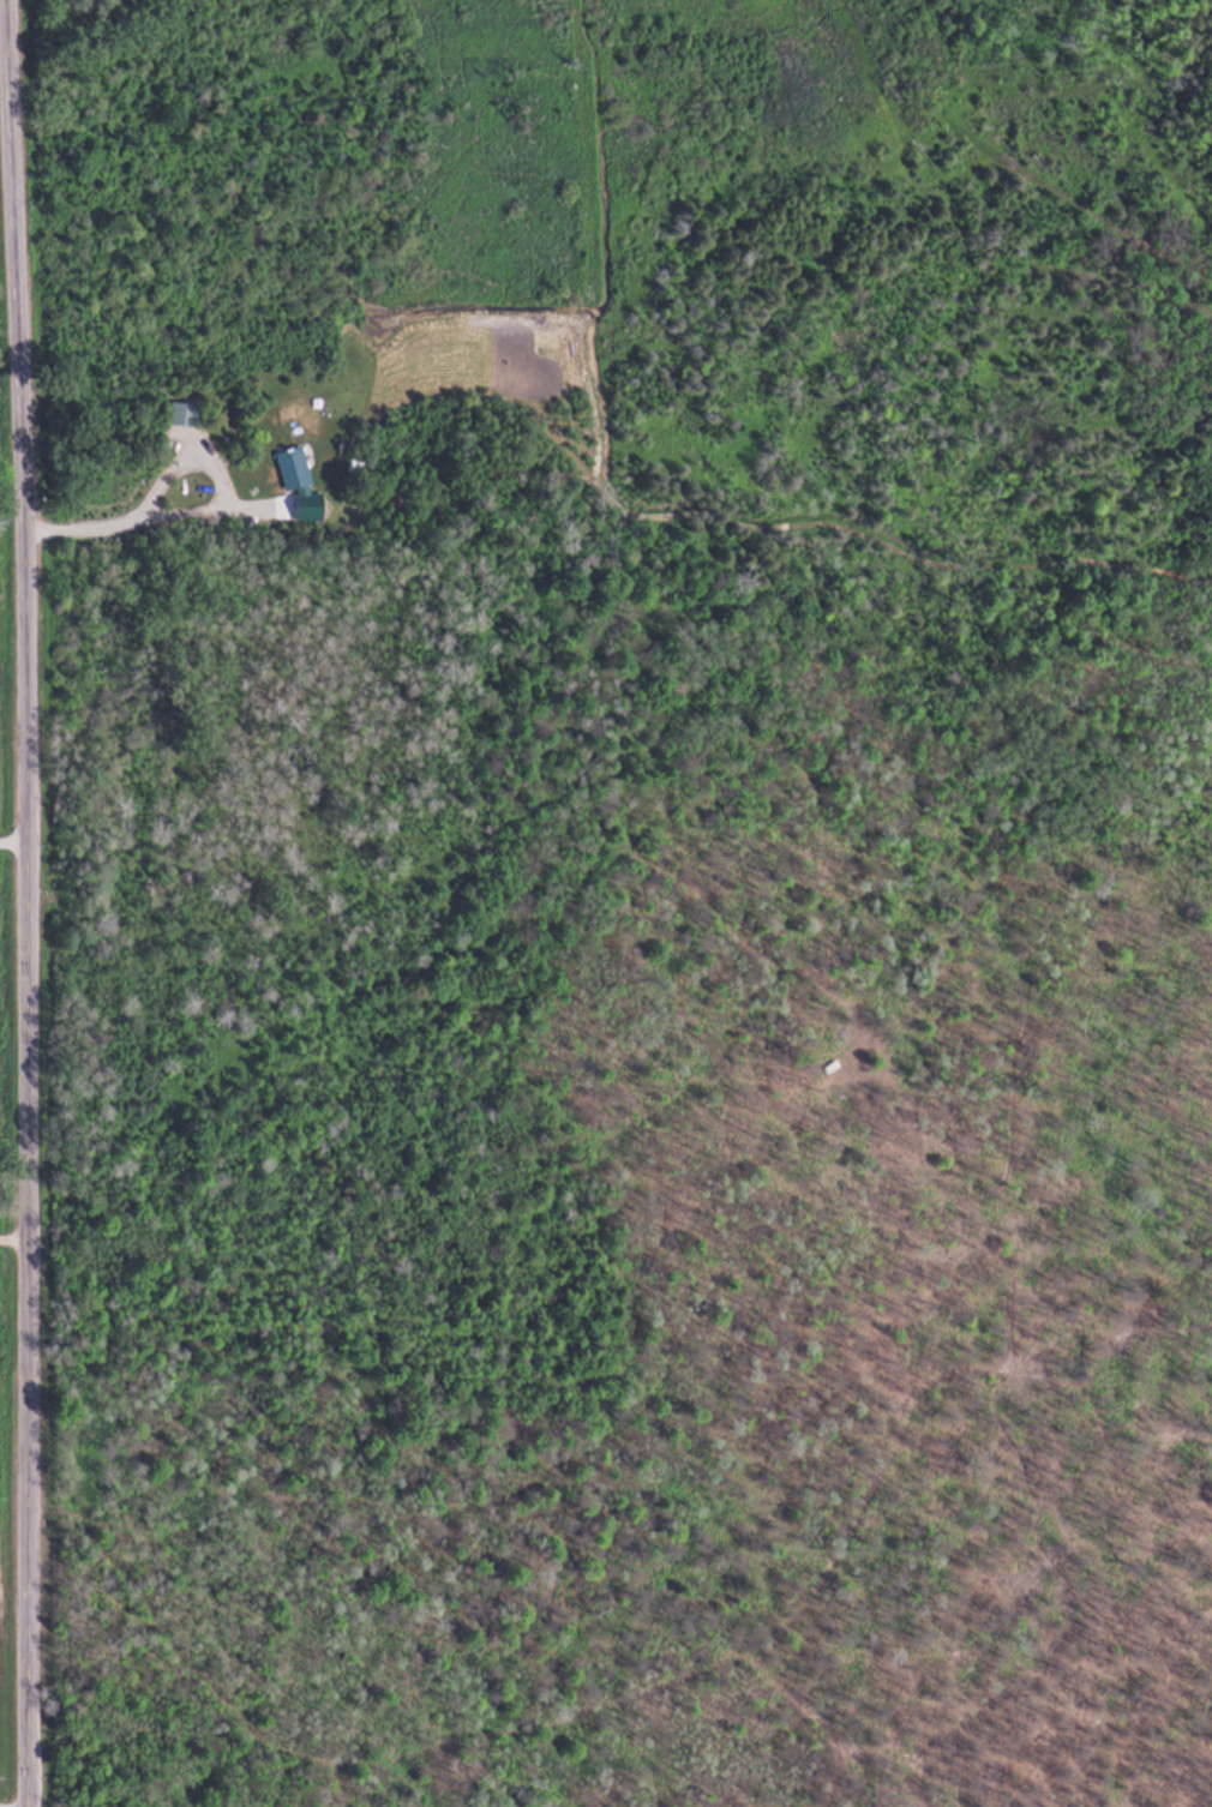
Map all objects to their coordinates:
building: (181, 412)
road: (175, 463)
road: (13, 839)
road: (28, 902)
road: (13, 1235)
road: (642, 1685)
road: (876, 1735)

